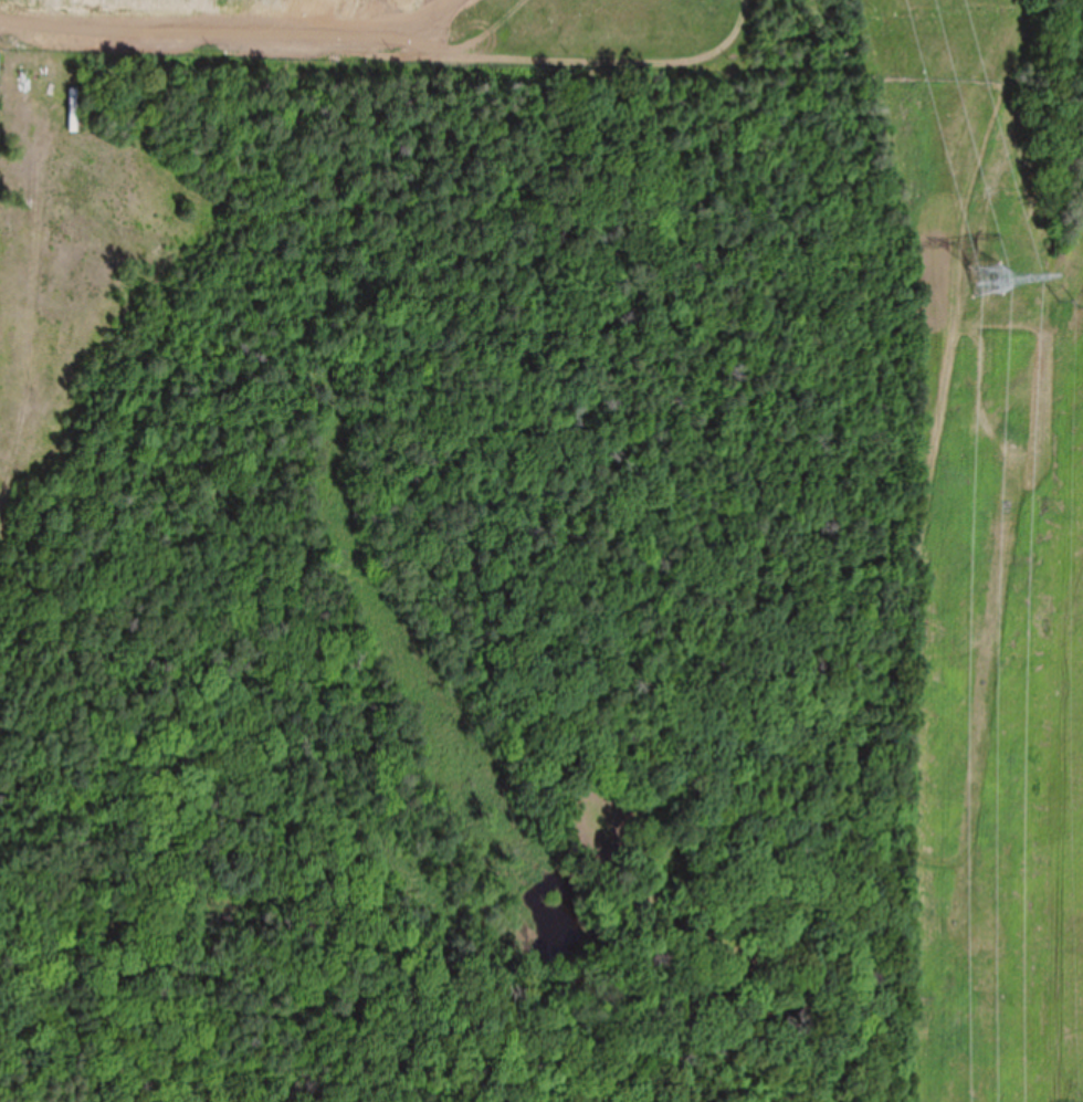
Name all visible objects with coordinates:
building: (73, 111)
power tower: (988, 293)
power tower: (1082, 311)
road: (883, 653)

